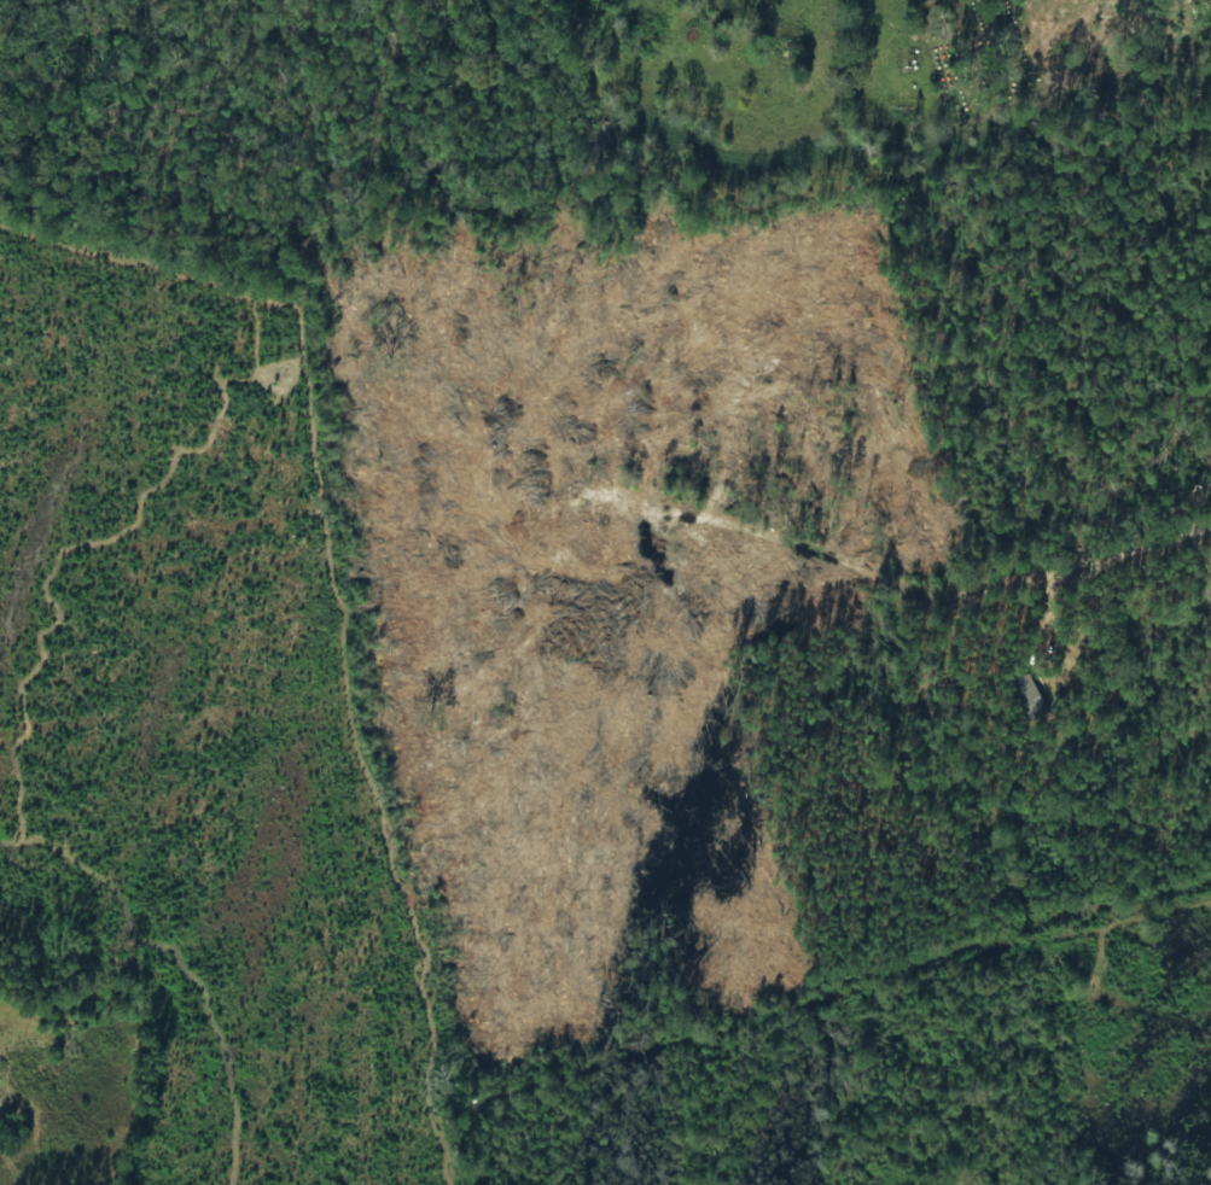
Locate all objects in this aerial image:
building: (1027, 696)

